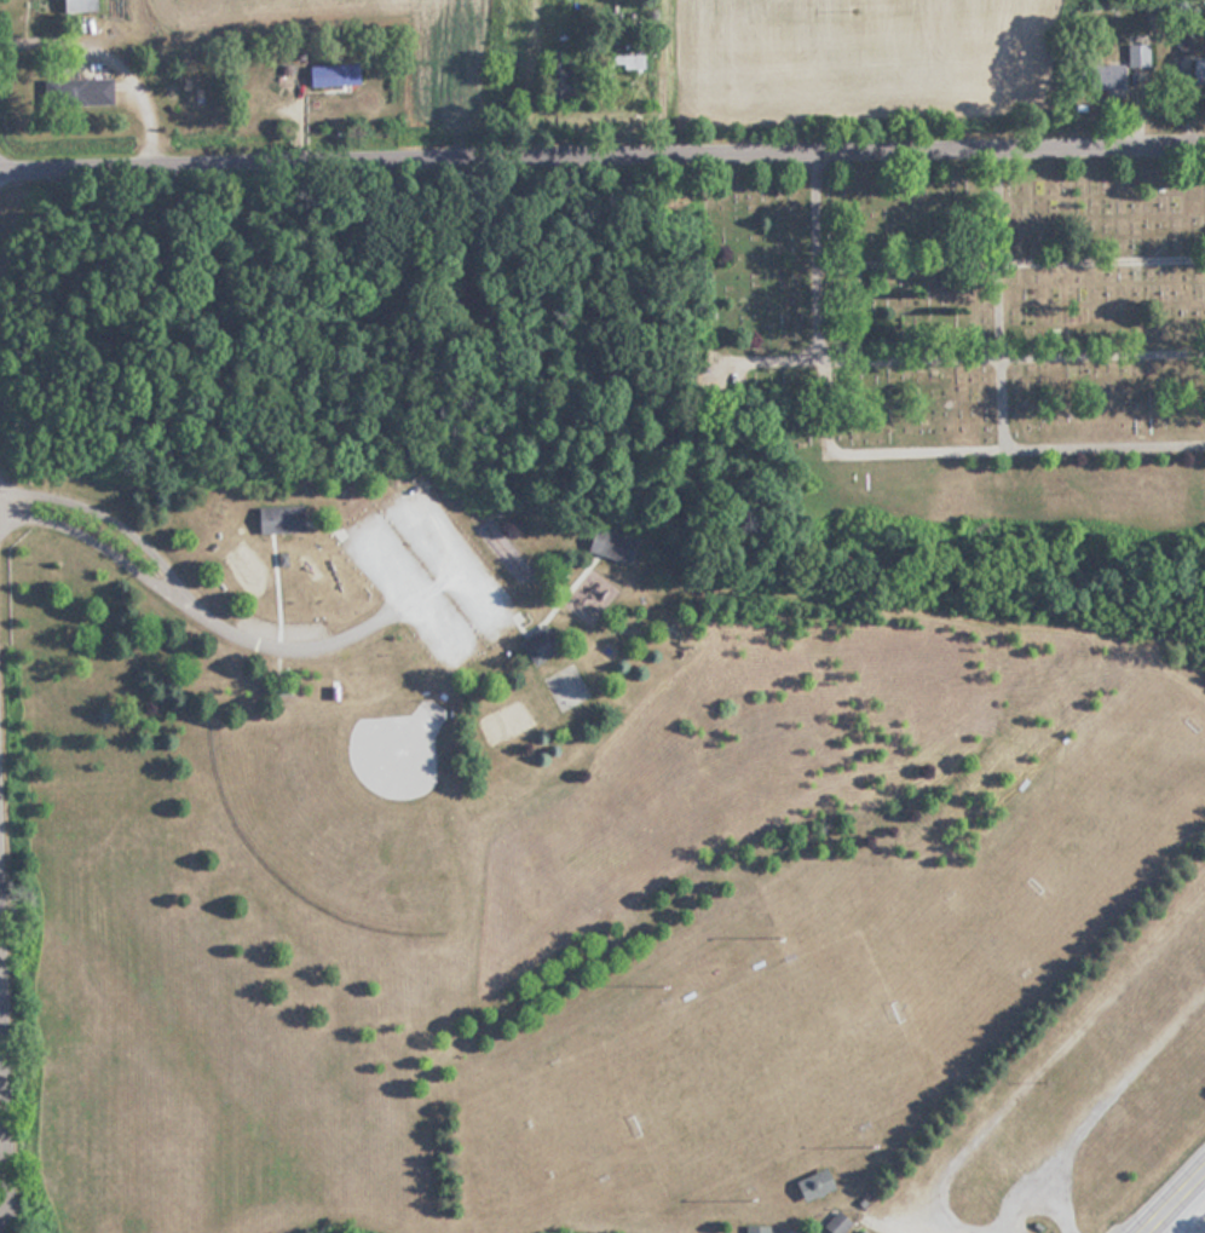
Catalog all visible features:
building: (1137, 54)
building: (1197, 69)
building: (339, 74)
building: (1106, 79)
building: (83, 91)
road: (601, 157)
road: (273, 246)
road: (996, 258)
road: (1008, 273)
park: (951, 357)
road: (904, 363)
road: (99, 514)
building: (284, 520)
road: (367, 532)
road: (90, 538)
building: (618, 545)
parking lot: (428, 571)
building: (544, 644)
building: (566, 686)
park: (521, 766)
road: (5, 1067)
building: (807, 1185)
road: (1180, 1208)
road: (1193, 1215)
building: (832, 1223)
building: (753, 1228)

